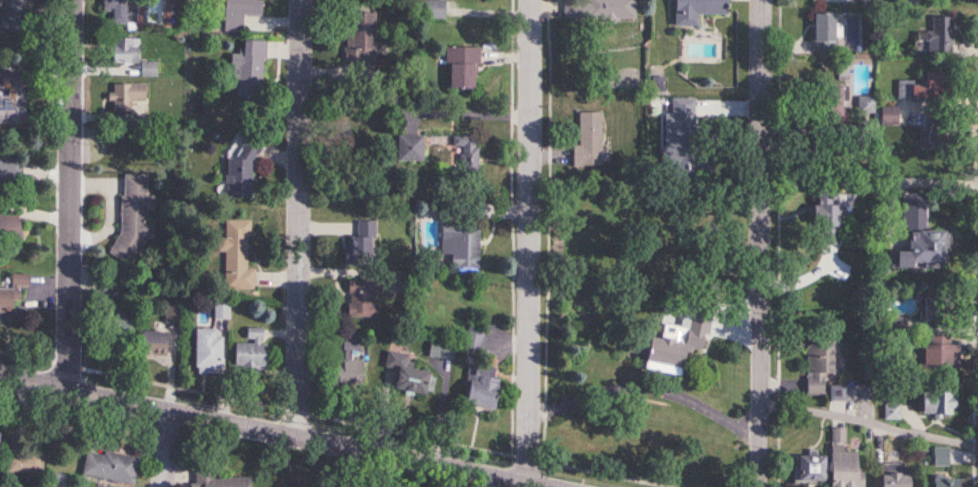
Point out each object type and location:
building: (433, 9)
building: (696, 9)
building: (121, 10)
building: (609, 10)
building: (236, 13)
building: (13, 15)
building: (823, 26)
building: (939, 34)
building: (359, 38)
building: (130, 59)
building: (248, 68)
building: (461, 68)
building: (11, 82)
building: (924, 87)
building: (127, 95)
building: (827, 100)
building: (866, 105)
building: (11, 110)
building: (682, 113)
building: (889, 115)
building: (934, 129)
building: (587, 139)
building: (466, 151)
building: (685, 154)
building: (10, 167)
building: (241, 170)
road: (78, 198)
building: (826, 213)
building: (135, 214)
road: (302, 221)
building: (9, 227)
building: (917, 237)
building: (365, 240)
building: (460, 242)
road: (528, 243)
road: (761, 243)
building: (236, 255)
building: (113, 288)
building: (12, 291)
building: (361, 298)
building: (173, 308)
building: (221, 309)
building: (932, 309)
building: (116, 328)
building: (473, 338)
building: (152, 342)
building: (665, 347)
building: (251, 348)
building: (440, 348)
building: (205, 349)
building: (937, 352)
building: (347, 360)
building: (817, 363)
building: (407, 374)
building: (480, 386)
building: (848, 391)
road: (648, 392)
building: (936, 402)
road: (438, 423)
road: (870, 427)
building: (0, 434)
road: (263, 435)
building: (24, 453)
road: (174, 453)
building: (110, 467)
building: (808, 468)
building: (843, 470)
road: (400, 475)
building: (889, 475)
building: (56, 479)
building: (218, 480)
building: (946, 481)
road: (520, 486)

